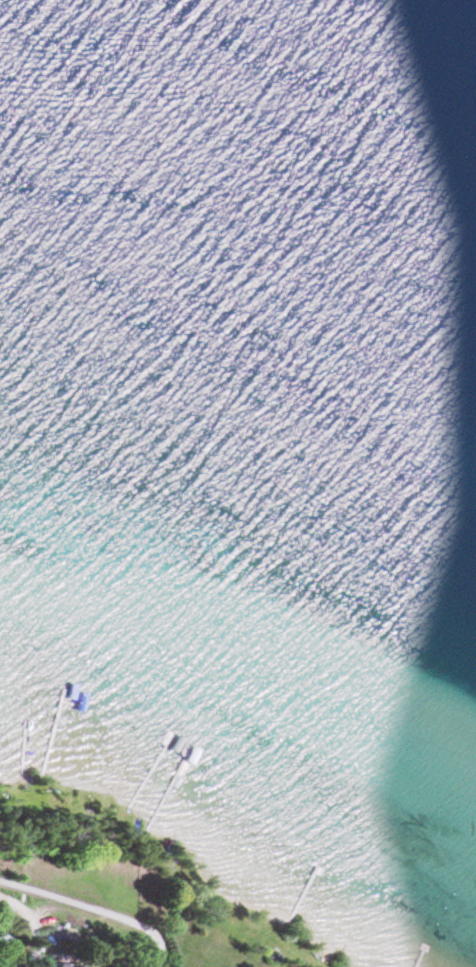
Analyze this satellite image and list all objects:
road: (95, 907)
road: (21, 913)
road: (40, 946)

